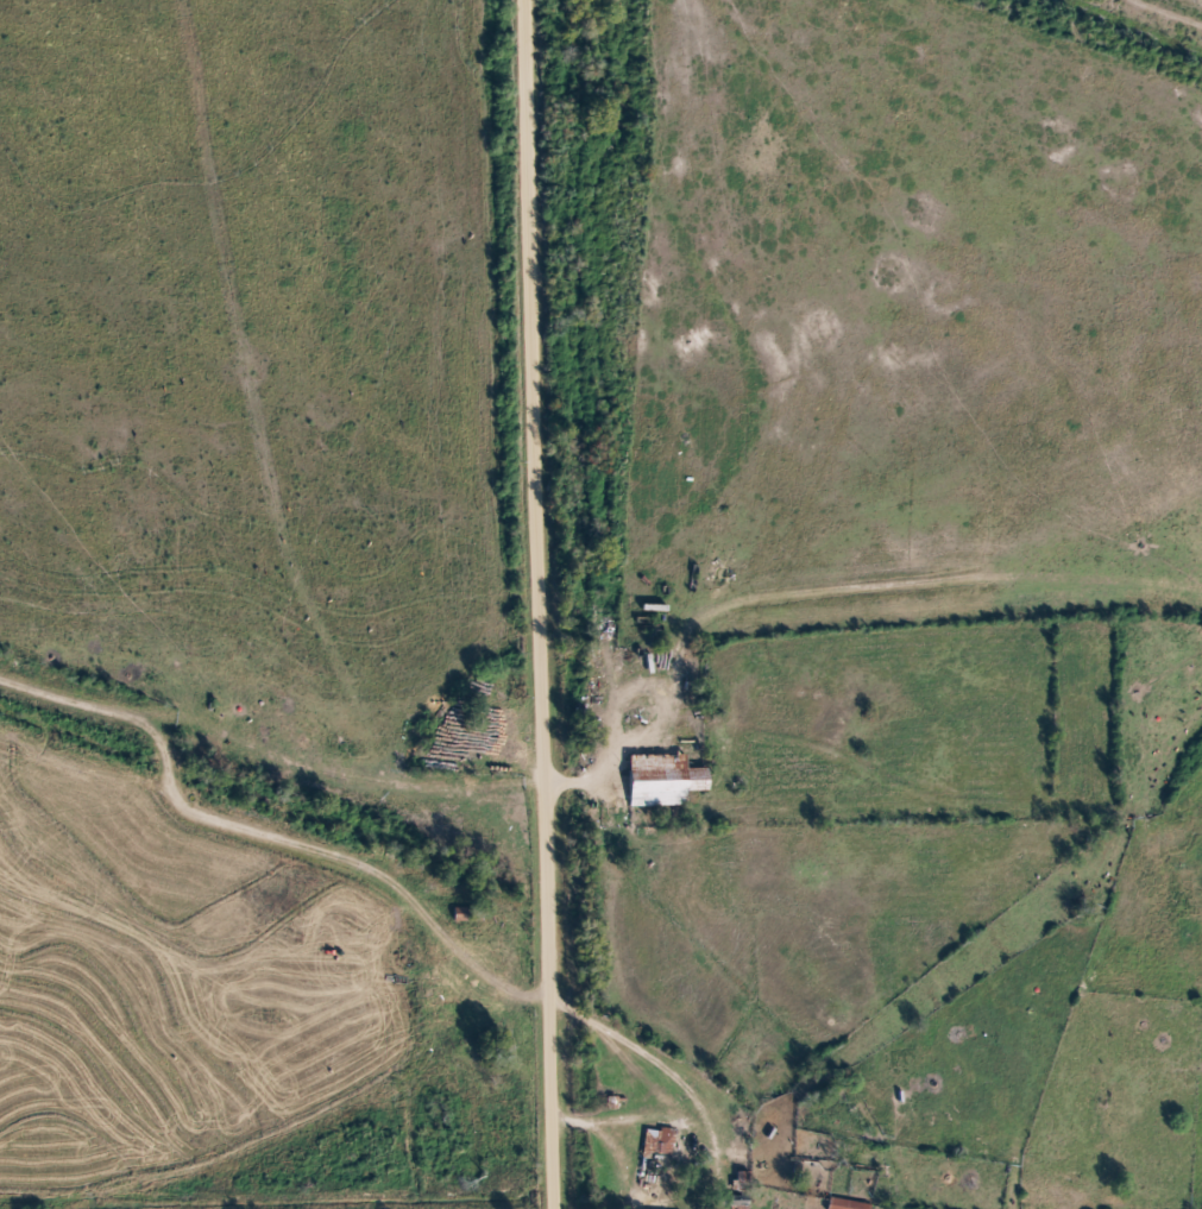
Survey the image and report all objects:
road: (543, 604)
building: (661, 781)
road: (278, 1122)

